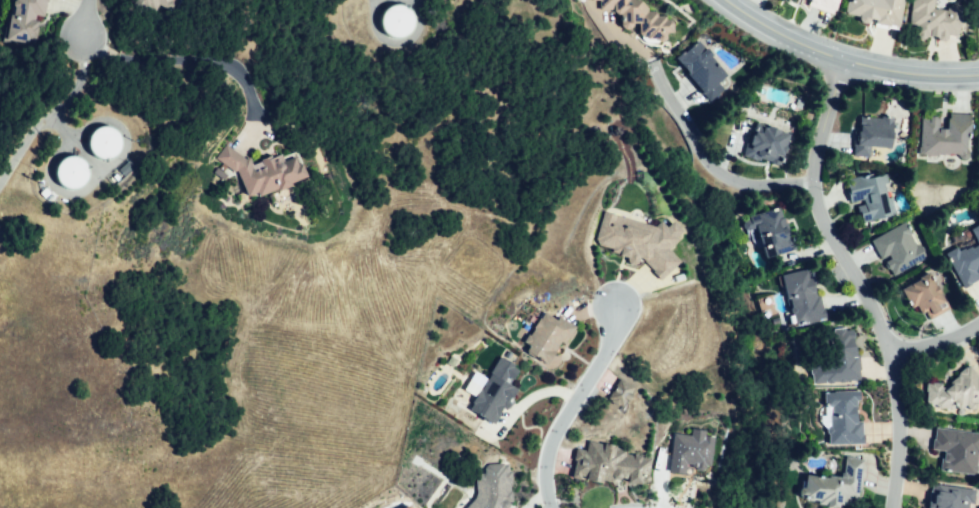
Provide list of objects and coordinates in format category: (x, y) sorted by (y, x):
building: (827, 2)
building: (164, 3)
building: (878, 11)
road: (84, 19)
building: (639, 19)
building: (936, 19)
building: (25, 21)
building: (399, 21)
road: (849, 57)
road: (181, 63)
building: (705, 70)
road: (53, 116)
building: (871, 134)
building: (944, 135)
building: (107, 145)
building: (766, 148)
road: (709, 161)
building: (75, 174)
building: (266, 174)
building: (873, 195)
building: (775, 229)
building: (638, 241)
building: (899, 250)
building: (966, 260)
road: (854, 279)
building: (805, 294)
building: (926, 294)
building: (551, 335)
road: (935, 339)
building: (834, 352)
building: (496, 390)
building: (622, 392)
building: (955, 392)
road: (570, 403)
building: (845, 417)
building: (689, 450)
building: (959, 450)
building: (610, 463)
building: (837, 486)
building: (495, 487)
building: (950, 496)
building: (407, 506)

